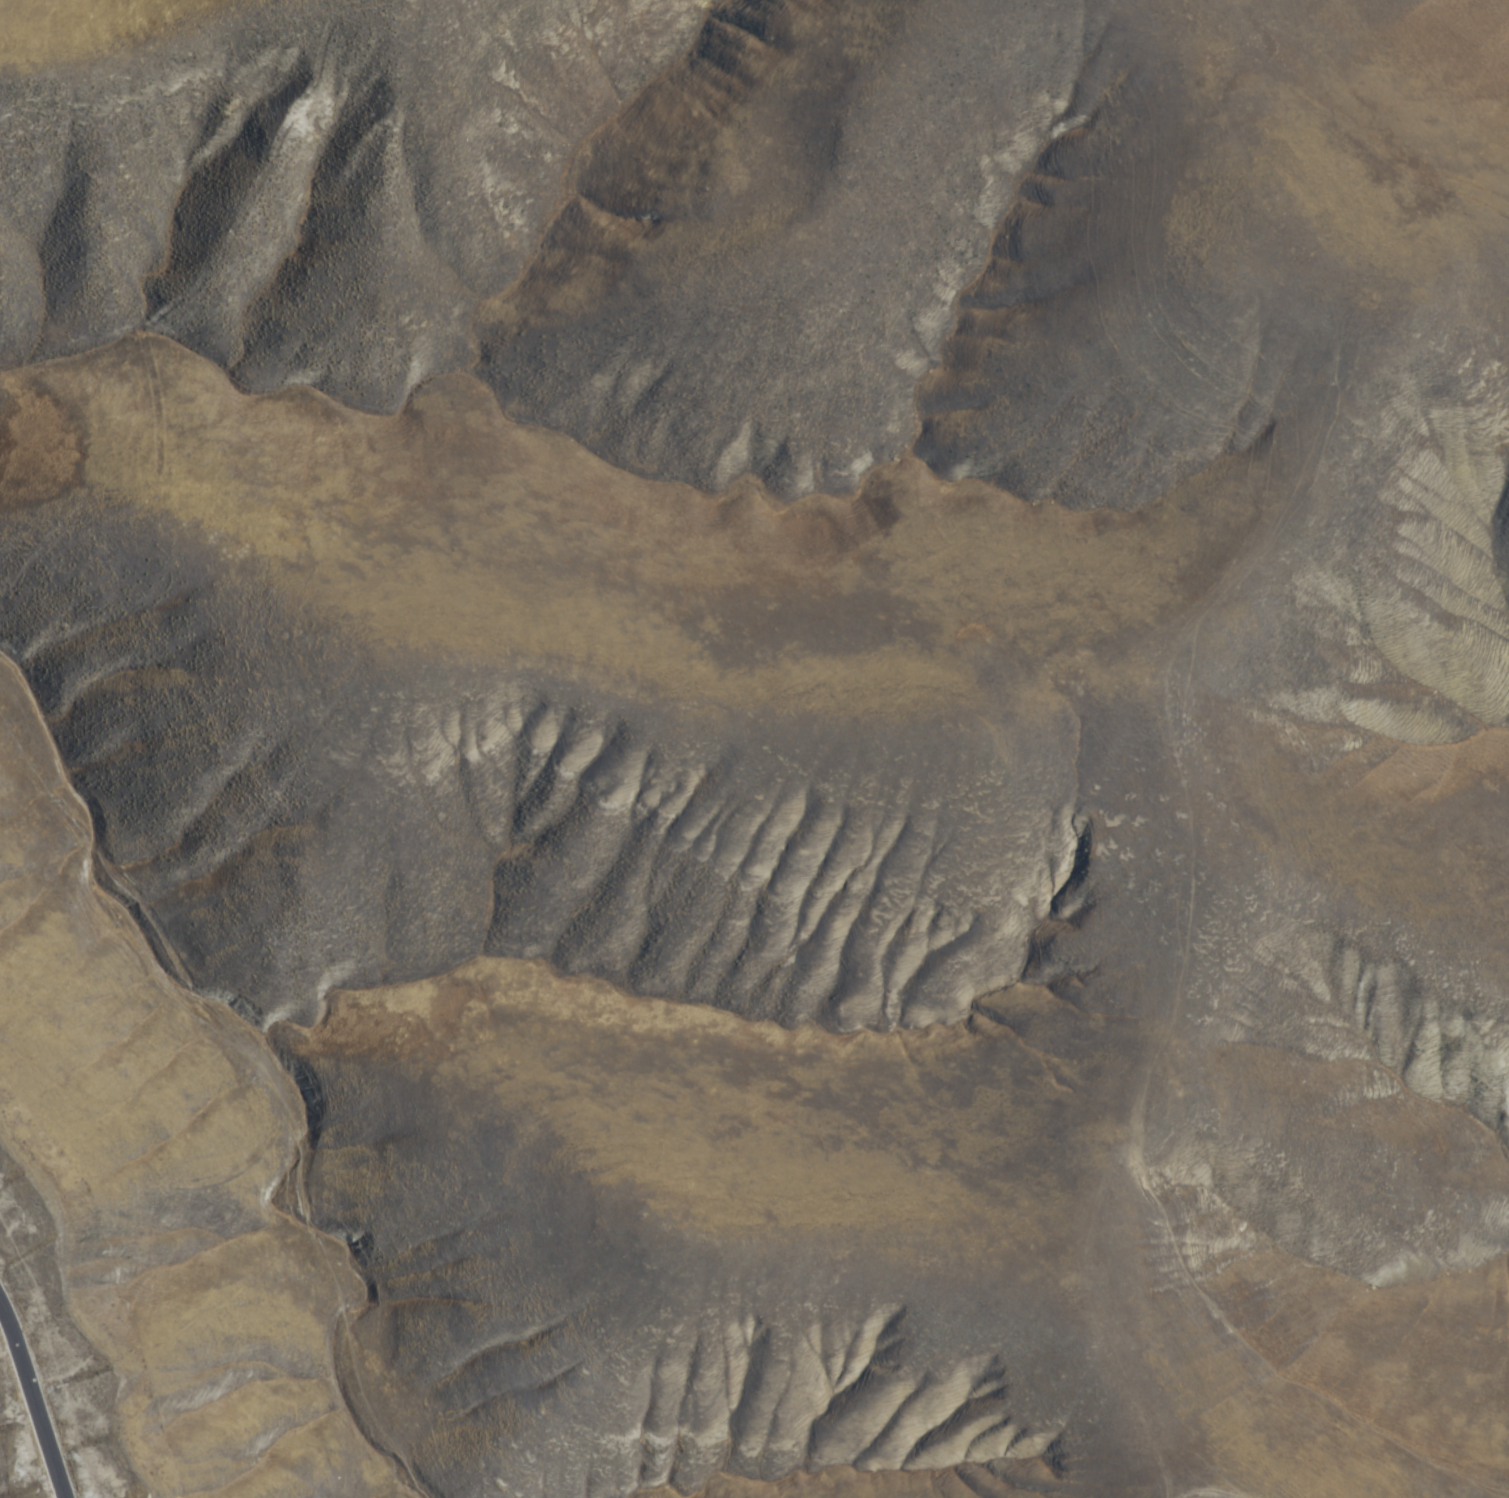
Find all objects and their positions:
road: (30, 1407)

